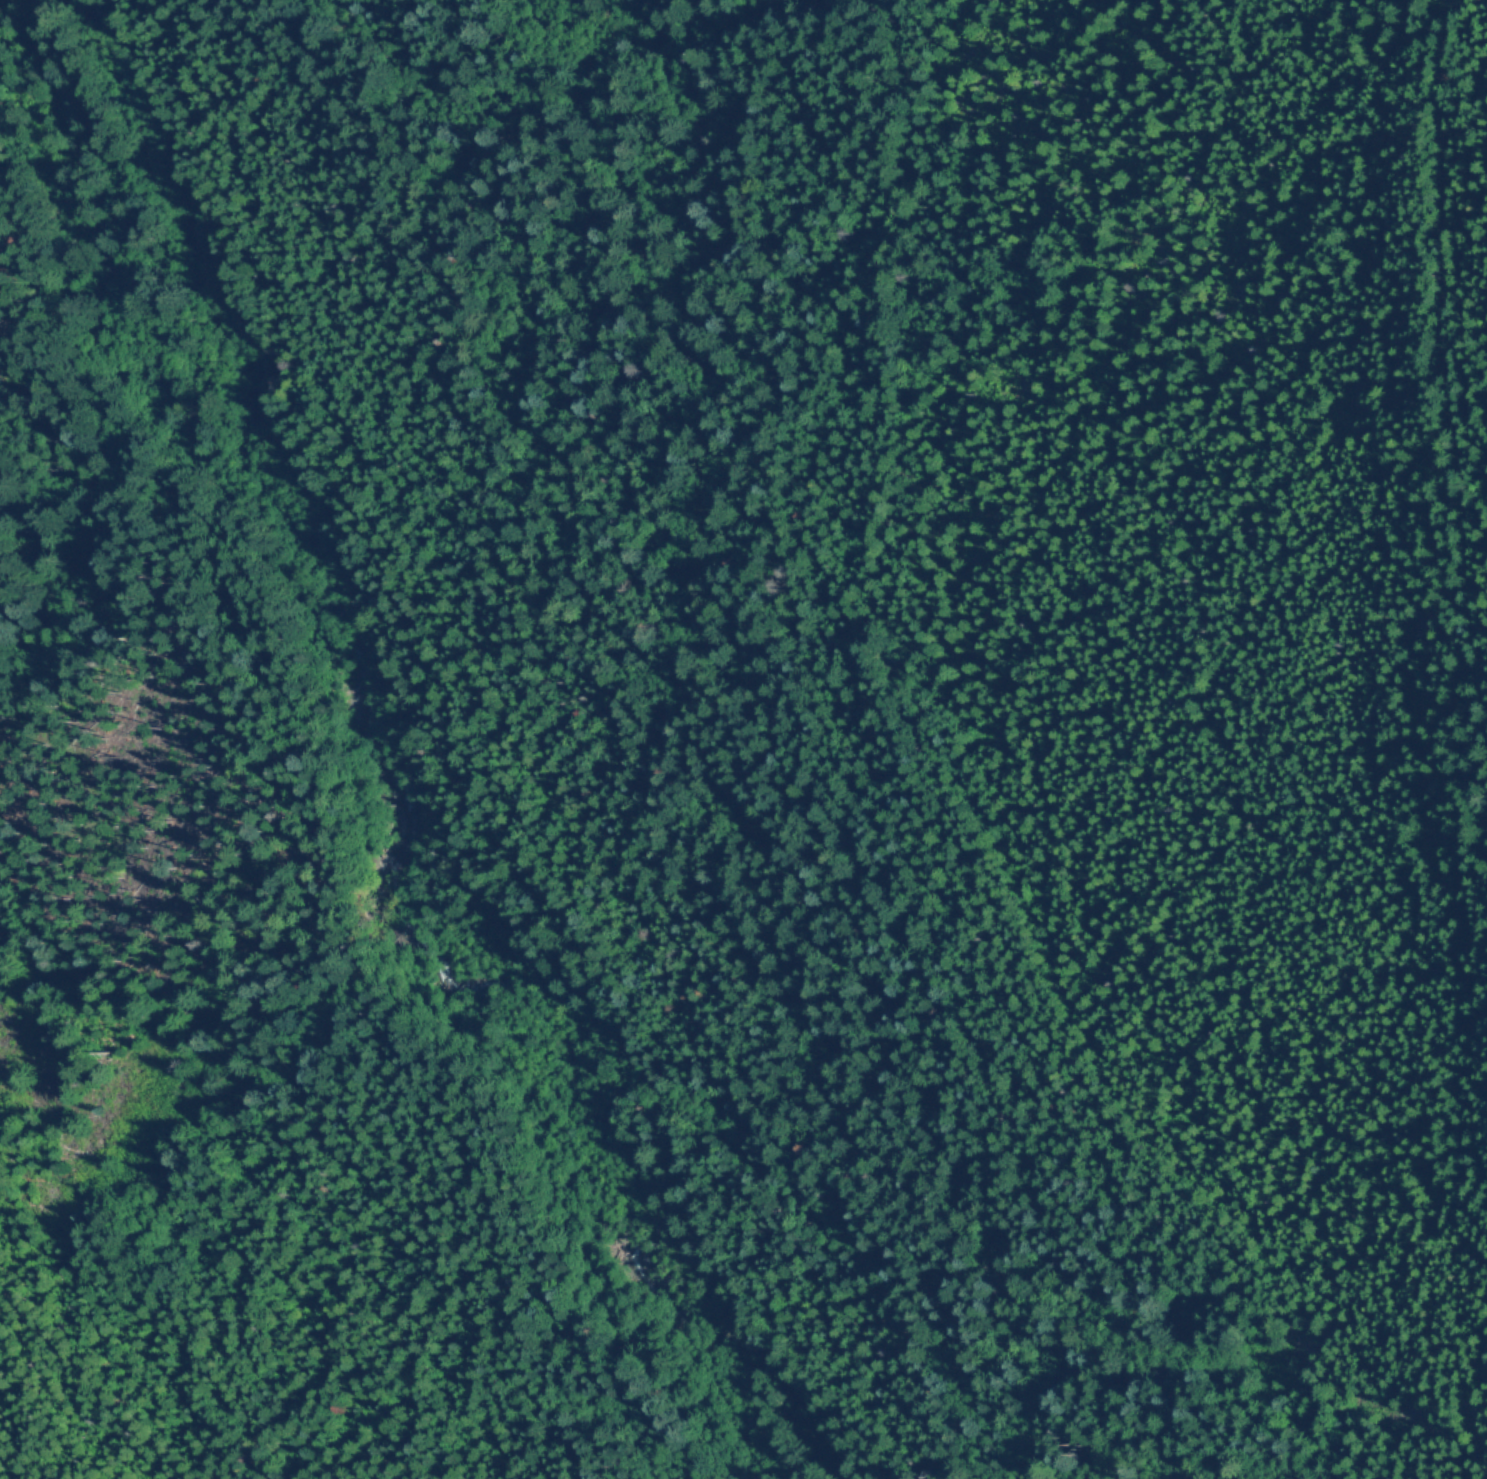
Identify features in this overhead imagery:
road: (1416, 549)

